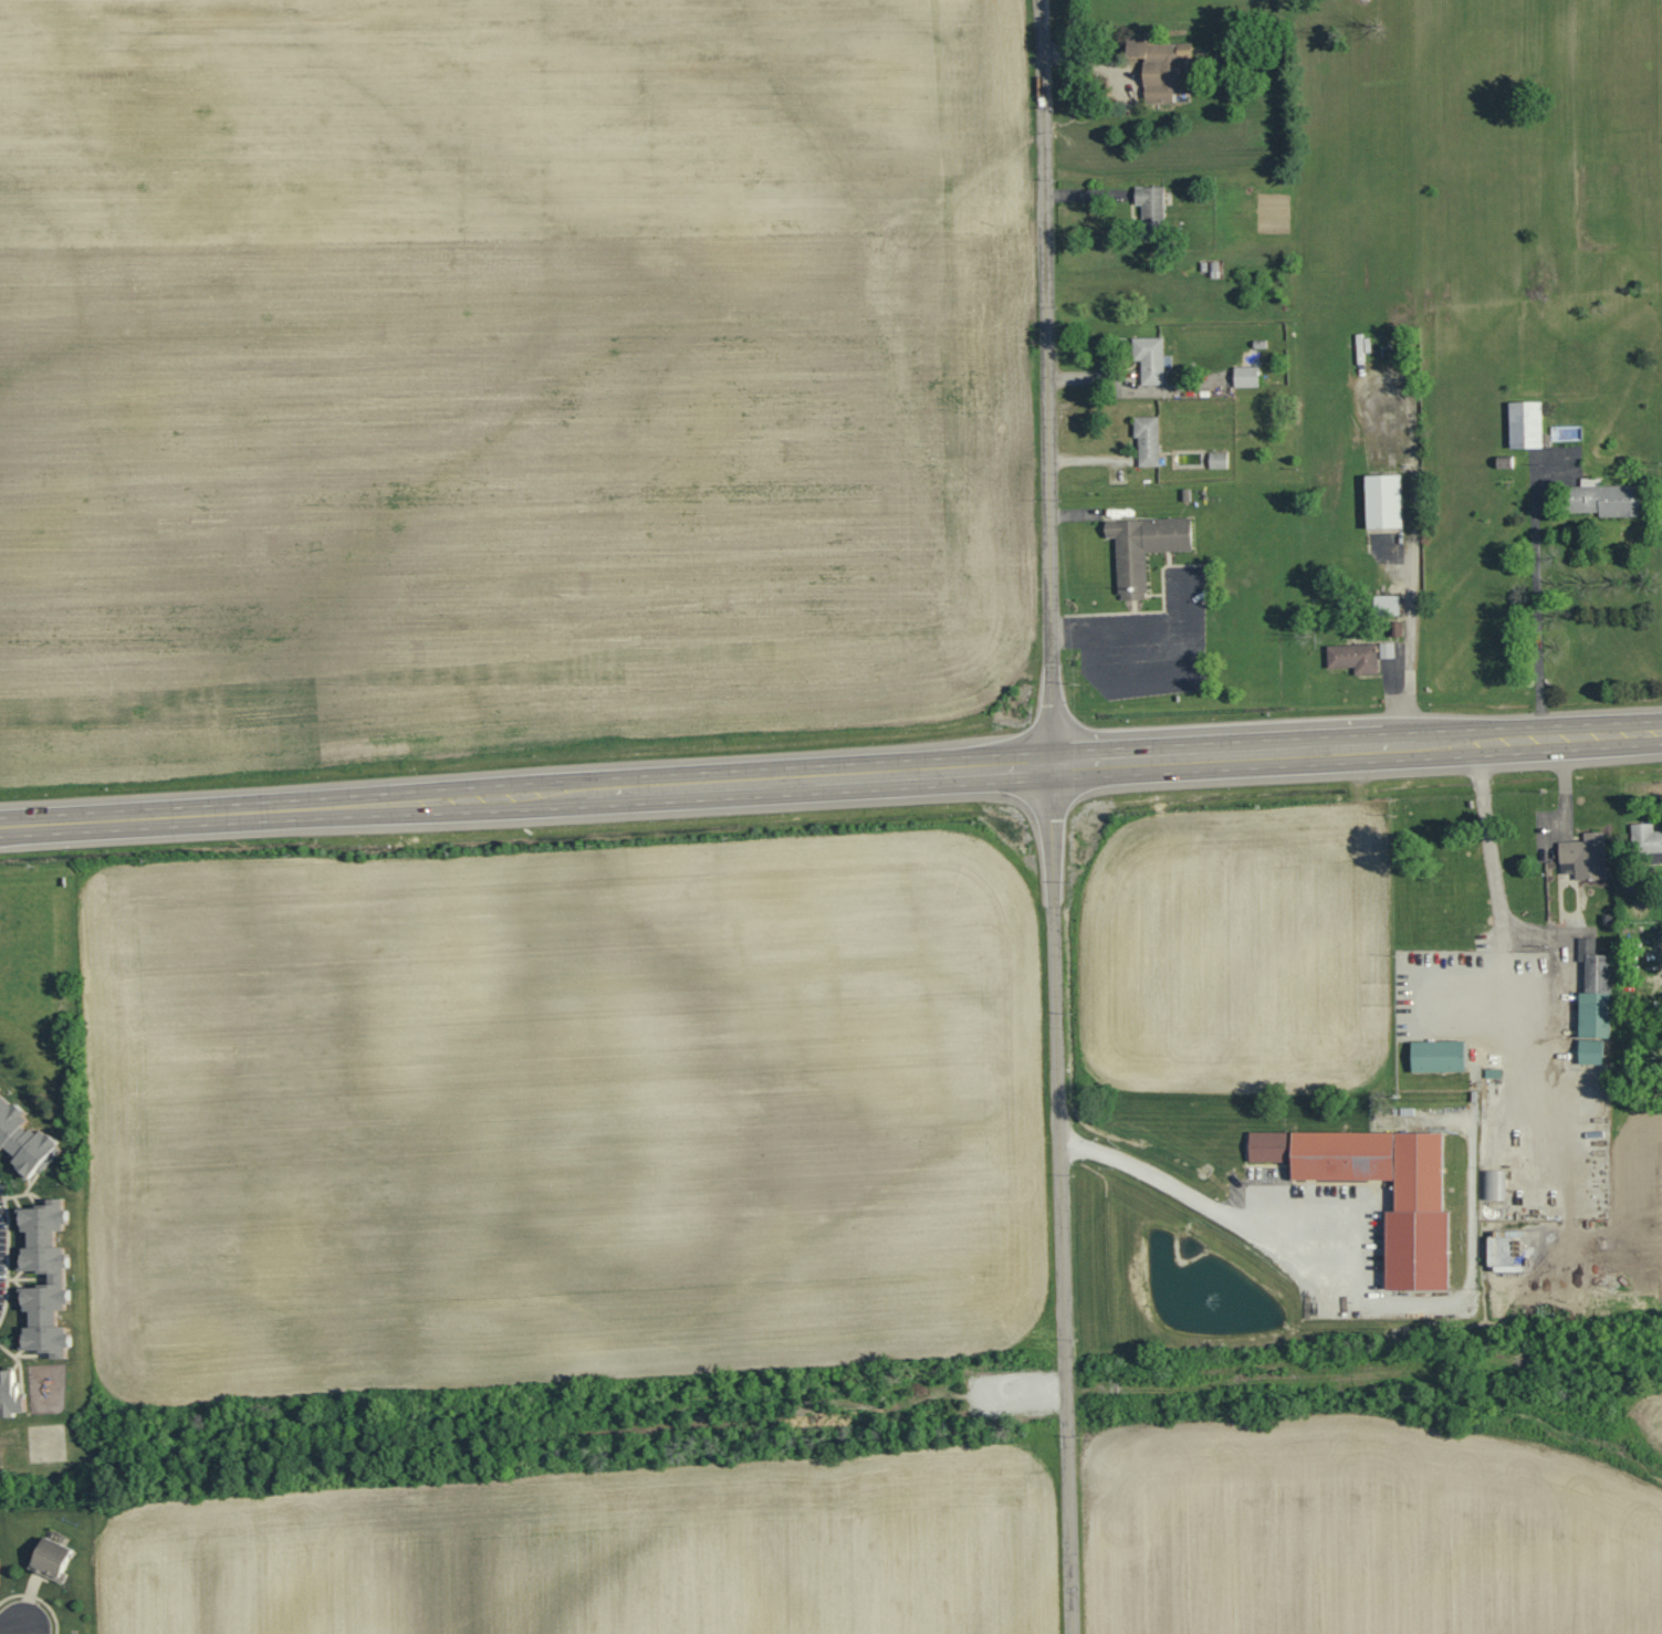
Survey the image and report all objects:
building: (1159, 65)
building: (1152, 210)
building: (1152, 359)
building: (1247, 376)
road: (1046, 383)
building: (1527, 423)
building: (1149, 440)
building: (1219, 460)
building: (1185, 494)
building: (1608, 499)
building: (1384, 501)
building: (1109, 528)
building: (1146, 546)
road: (1412, 586)
building: (1131, 596)
road: (1184, 599)
building: (1388, 605)
road: (1541, 624)
road: (1136, 633)
road: (1072, 637)
road: (1054, 638)
parking lot: (1144, 643)
building: (1355, 658)
road: (1138, 677)
road: (1570, 737)
road: (739, 785)
building: (1647, 839)
building: (1588, 856)
road: (1489, 861)
building: (1597, 992)
building: (1592, 1051)
building: (1440, 1057)
building: (24, 1141)
building: (1266, 1148)
building: (1341, 1156)
building: (1494, 1185)
road: (1062, 1201)
building: (1417, 1217)
road: (1468, 1257)
building: (56, 1281)
building: (9, 1394)
road: (1028, 1396)
parking lot: (1014, 1397)
road: (534, 1435)
building: (49, 1558)
road: (38, 1600)
road: (24, 1628)

